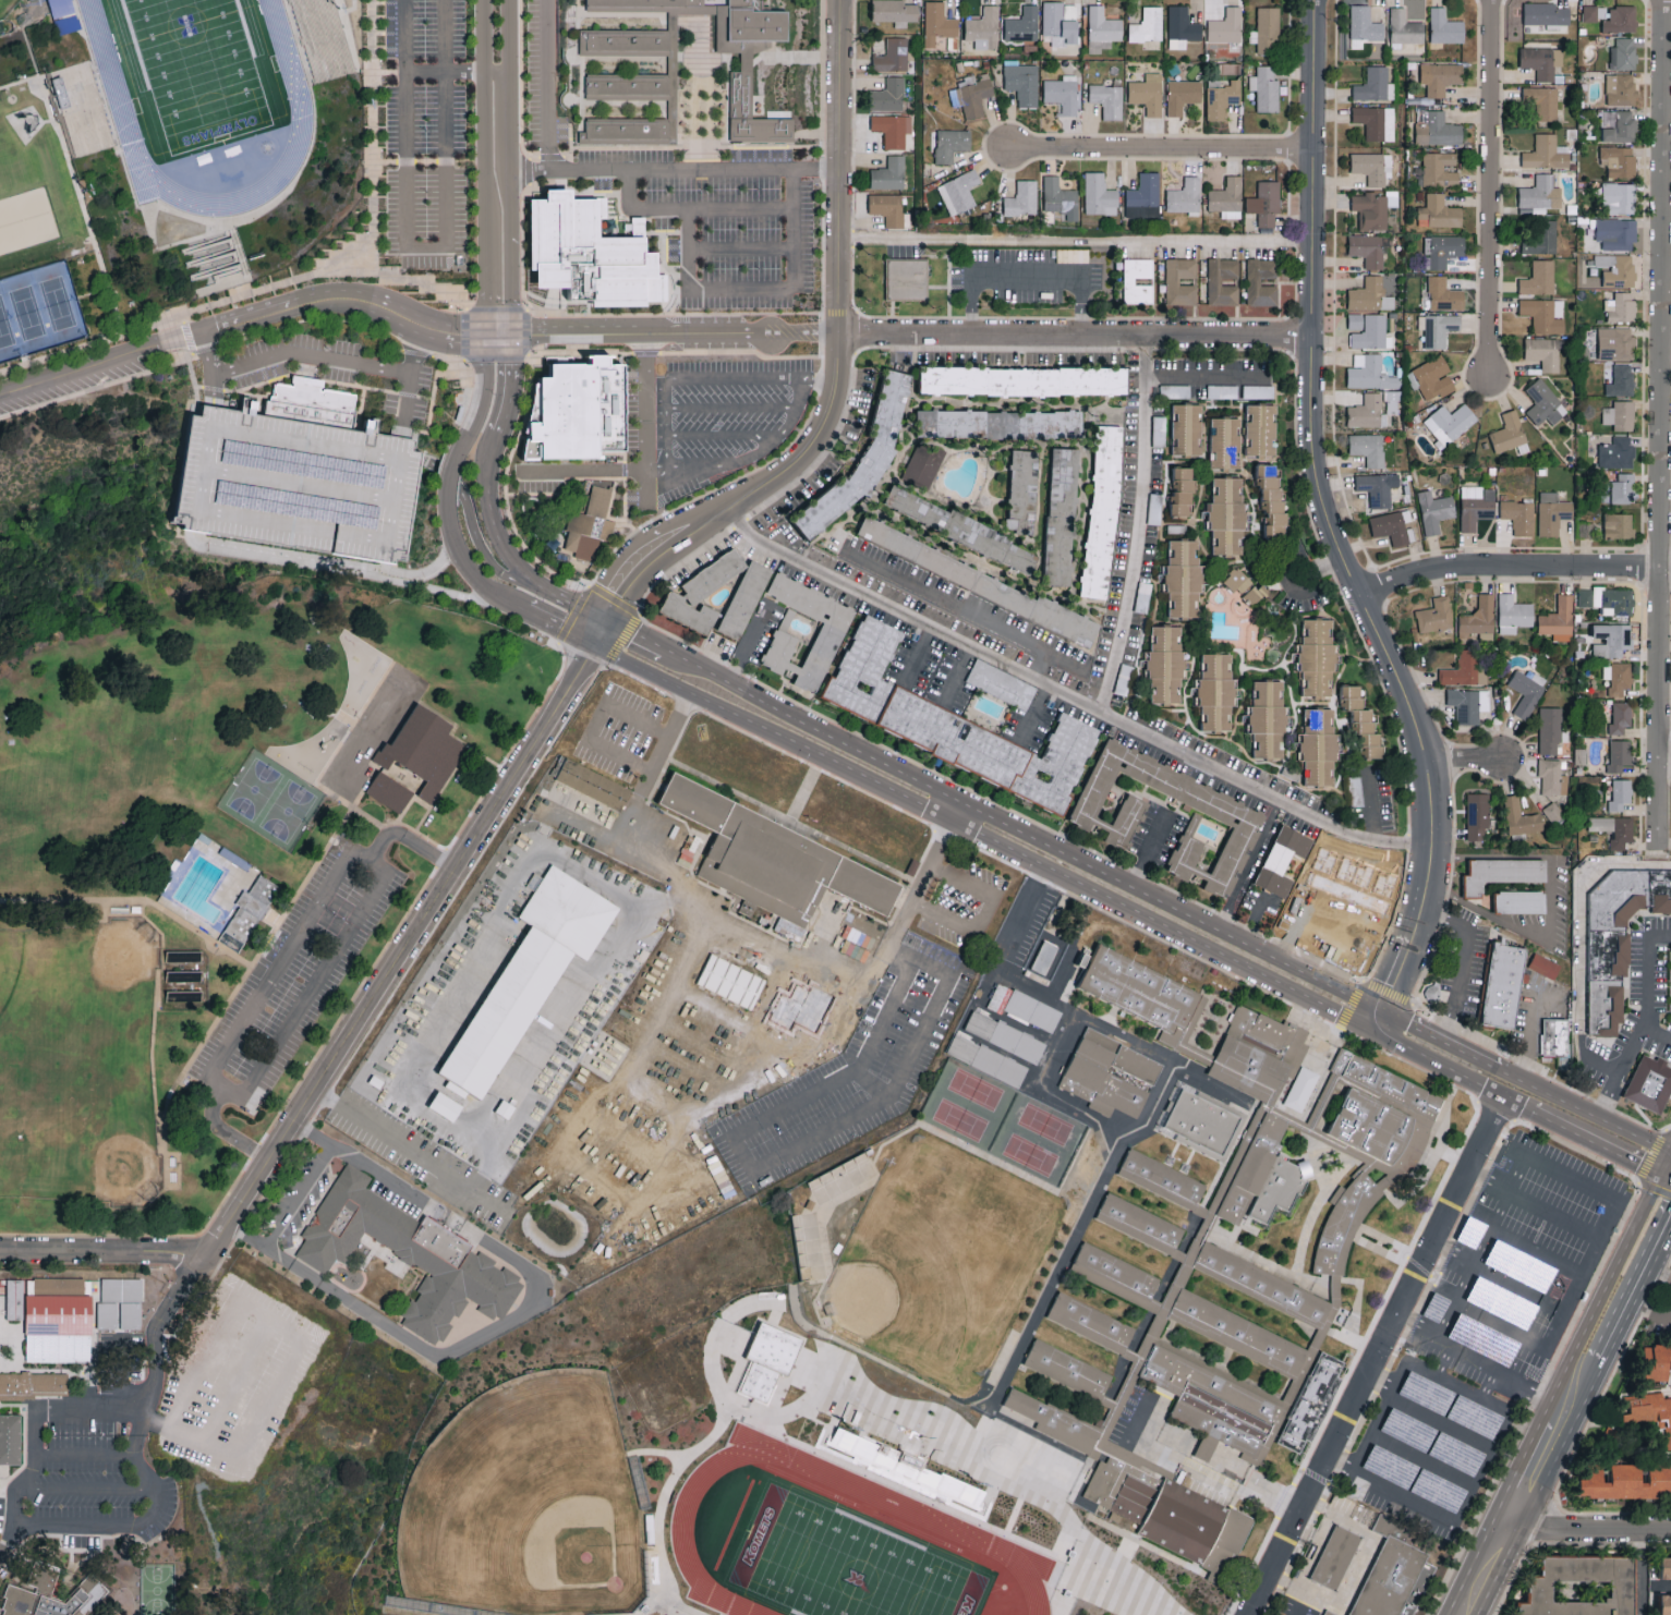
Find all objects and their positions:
park: (7, 5)
building: (895, 11)
building: (1595, 12)
building: (62, 13)
building: (1545, 13)
building: (1621, 19)
building: (937, 23)
building: (1024, 24)
building: (1058, 24)
building: (1365, 24)
building: (1147, 25)
building: (1182, 26)
building: (1226, 26)
building: (1445, 26)
building: (984, 27)
building: (1404, 27)
building: (1102, 28)
building: (1267, 29)
building: (323, 38)
building: (1623, 53)
building: (893, 54)
road: (792, 57)
building: (1541, 61)
park: (197, 70)
road: (448, 71)
building: (606, 72)
parking lot: (543, 75)
building: (1440, 76)
building: (1022, 83)
road: (545, 85)
building: (1373, 85)
building: (1266, 88)
building: (1621, 88)
building: (1062, 93)
building: (1148, 93)
building: (971, 94)
building: (888, 95)
building: (1183, 95)
building: (1222, 97)
building: (1107, 99)
track: (289, 100)
building: (1542, 100)
building: (81, 109)
building: (1376, 121)
building: (1619, 125)
building: (891, 130)
building: (1438, 130)
road: (809, 133)
parking lot: (425, 135)
road: (372, 136)
building: (948, 143)
road: (1159, 145)
road: (697, 146)
building: (1547, 153)
road: (565, 156)
building: (1619, 160)
road: (838, 166)
road: (495, 167)
building: (1370, 167)
road: (666, 168)
building: (1439, 168)
building: (889, 173)
park: (34, 181)
road: (629, 189)
road: (1488, 189)
building: (958, 191)
building: (1099, 194)
building: (1539, 195)
building: (1143, 196)
building: (1185, 196)
building: (1058, 197)
building: (1227, 197)
building: (1619, 197)
building: (1021, 198)
building: (1392, 198)
building: (1266, 203)
road: (711, 208)
building: (887, 208)
building: (1370, 210)
building: (1439, 211)
parking lot: (724, 217)
road: (522, 220)
road: (792, 227)
road: (656, 232)
building: (1615, 233)
building: (1540, 238)
road: (1074, 239)
road: (688, 247)
road: (740, 247)
road: (425, 248)
building: (1368, 248)
building: (1443, 248)
building: (592, 252)
building: (1615, 269)
road: (341, 272)
road: (674, 272)
road: (1027, 275)
building: (907, 278)
building: (1538, 278)
building: (1128, 280)
building: (1172, 280)
building: (1214, 280)
building: (1254, 281)
road: (740, 287)
road: (554, 294)
road: (679, 294)
building: (1370, 294)
building: (1443, 294)
road: (564, 297)
road: (537, 299)
road: (553, 301)
building: (1620, 307)
park: (37, 308)
road: (673, 309)
road: (550, 311)
road: (564, 311)
road: (706, 313)
road: (786, 313)
building: (1543, 314)
road: (343, 319)
road: (247, 320)
building: (1437, 328)
building: (1367, 329)
road: (800, 333)
road: (1075, 333)
road: (630, 335)
building: (1615, 343)
road: (77, 349)
road: (717, 351)
road: (610, 352)
building: (1543, 353)
road: (788, 355)
road: (317, 359)
road: (822, 363)
building: (1370, 373)
road: (301, 374)
road: (1207, 376)
building: (1433, 377)
road: (815, 380)
building: (1024, 380)
building: (1619, 380)
road: (194, 382)
road: (210, 390)
road: (228, 390)
road: (78, 393)
road: (408, 393)
road: (484, 393)
road: (432, 398)
road: (507, 398)
building: (1543, 402)
building: (1392, 404)
road: (361, 406)
road: (729, 408)
building: (573, 411)
building: (1366, 411)
road: (405, 414)
road: (641, 414)
building: (1620, 415)
parking lot: (705, 417)
road: (1659, 422)
building: (1000, 423)
building: (1450, 423)
building: (1261, 429)
building: (1510, 433)
road: (718, 434)
building: (1225, 442)
building: (1369, 448)
building: (1616, 452)
road: (667, 453)
building: (863, 459)
building: (923, 464)
road: (451, 470)
road: (602, 470)
road: (486, 474)
building: (296, 477)
parking garage: (296, 477)
road: (588, 478)
road: (506, 483)
building: (1378, 487)
building: (1622, 488)
building: (1022, 490)
building: (1182, 490)
road: (749, 493)
building: (1272, 497)
building: (1476, 506)
building: (1103, 511)
building: (1434, 511)
building: (1552, 512)
road: (607, 515)
building: (1062, 515)
road: (1327, 515)
building: (1519, 517)
road: (472, 519)
road: (1140, 524)
building: (1618, 525)
building: (589, 526)
building: (1392, 527)
building: (961, 529)
road: (777, 536)
road: (290, 562)
road: (1512, 562)
road: (468, 564)
road: (433, 570)
parking lot: (1276, 570)
road: (522, 571)
building: (1183, 579)
building: (979, 581)
building: (1243, 585)
road: (449, 593)
building: (748, 593)
road: (1298, 593)
building: (1608, 599)
road: (958, 608)
building: (1513, 614)
building: (1436, 615)
traffic signals: (605, 618)
building: (1479, 618)
building: (1558, 619)
road: (1163, 622)
road: (558, 626)
road: (596, 630)
building: (831, 632)
road: (631, 635)
building: (1612, 639)
road: (1292, 642)
traffic signals: (589, 643)
road: (746, 646)
road: (917, 652)
road: (1345, 653)
building: (1317, 657)
building: (1165, 665)
road: (1040, 666)
road: (1282, 666)
building: (1466, 668)
road: (957, 673)
building: (1618, 677)
building: (1002, 683)
road: (1185, 687)
building: (1526, 691)
building: (1214, 692)
road: (1070, 695)
building: (1468, 704)
road: (1150, 709)
road: (1034, 711)
building: (1621, 717)
building: (1267, 719)
road: (593, 721)
building: (1361, 721)
building: (953, 722)
road: (1234, 726)
road: (1295, 727)
building: (1549, 730)
building: (1319, 748)
building: (426, 753)
building: (1619, 754)
road: (1463, 756)
road: (1666, 762)
road: (328, 763)
road: (1342, 775)
building: (1550, 775)
building: (593, 784)
building: (391, 794)
building: (1620, 794)
park: (274, 800)
parking lot: (1369, 800)
road: (641, 801)
road: (404, 811)
building: (1553, 813)
building: (1477, 815)
building: (1521, 817)
building: (1244, 818)
building: (1613, 828)
road: (1020, 831)
road: (419, 834)
road: (410, 837)
road: (980, 839)
road: (1148, 849)
building: (1283, 860)
building: (776, 861)
park: (211, 862)
road: (368, 863)
road: (1249, 863)
road: (525, 870)
building: (1499, 873)
road: (135, 900)
building: (1518, 901)
road: (911, 906)
road: (1552, 906)
road: (1024, 909)
road: (980, 911)
building: (249, 912)
building: (1620, 915)
road: (1254, 919)
road: (1584, 920)
road: (691, 928)
road: (759, 954)
road: (1462, 957)
parking lot: (1465, 959)
building: (1049, 960)
road: (396, 963)
building: (1542, 966)
parking lot: (298, 975)
building: (529, 976)
building: (731, 981)
building: (1500, 984)
building: (1140, 989)
building: (995, 994)
road: (230, 997)
building: (1601, 1007)
building: (1032, 1010)
road: (1647, 1015)
road: (1379, 1018)
road: (1410, 1021)
road: (1530, 1024)
road: (1656, 1032)
building: (1006, 1040)
building: (1552, 1040)
road: (1455, 1045)
building: (1260, 1057)
road: (1486, 1060)
park: (81, 1062)
building: (989, 1064)
road: (1448, 1067)
building: (1113, 1077)
road: (873, 1084)
building: (1647, 1084)
building: (1300, 1089)
road: (1606, 1093)
road: (1584, 1110)
park: (1002, 1125)
building: (1201, 1127)
road: (225, 1132)
road: (1591, 1139)
building: (1370, 1146)
road: (411, 1151)
road: (1517, 1151)
traffic signals: (1639, 1163)
road: (1667, 1163)
road: (749, 1164)
building: (861, 1167)
road: (1644, 1168)
building: (1250, 1170)
road: (1667, 1174)
building: (1162, 1185)
road: (299, 1194)
road: (1533, 1203)
road: (1487, 1213)
building: (676, 1215)
road: (1608, 1219)
building: (1142, 1230)
road: (1659, 1247)
road: (1536, 1251)
road: (106, 1253)
building: (409, 1254)
park: (935, 1262)
road: (1612, 1270)
road: (1659, 1275)
building: (1116, 1278)
building: (1262, 1290)
building: (14, 1299)
building: (120, 1303)
building: (1433, 1308)
road: (514, 1309)
road: (1649, 1311)
road: (1622, 1314)
building: (60, 1319)
road: (1445, 1323)
building: (1093, 1326)
road: (1501, 1327)
building: (1237, 1336)
parking lot: (1482, 1338)
road: (1377, 1355)
building: (767, 1360)
building: (1657, 1361)
road: (1589, 1364)
road: (1413, 1367)
building: (1068, 1372)
road: (123, 1376)
road: (1521, 1381)
road: (1554, 1381)
building: (31, 1384)
building: (1424, 1392)
road: (1474, 1397)
road: (1570, 1397)
road: (249, 1399)
building: (1210, 1404)
building: (1312, 1408)
building: (1650, 1411)
building: (1472, 1416)
building: (1051, 1424)
building: (1405, 1429)
road: (1370, 1432)
road: (1462, 1434)
building: (10, 1437)
park: (966, 1441)
building: (1453, 1453)
road: (86, 1454)
road: (1420, 1458)
building: (1388, 1466)
road: (28, 1469)
building: (910, 1471)
road: (1190, 1472)
road: (1536, 1479)
building: (1625, 1481)
road: (88, 1490)
building: (1436, 1490)
road: (1319, 1505)
road: (1426, 1506)
park: (530, 1507)
building: (1165, 1514)
road: (1590, 1531)
road: (7, 1539)
road: (1363, 1545)
building: (1333, 1557)
park: (843, 1566)
building: (1667, 1566)
road: (1489, 1572)
road: (1636, 1572)
building: (1391, 1575)
building: (43, 1576)
building: (1042, 1584)
building: (1583, 1586)
park: (156, 1589)
building: (50, 1602)
building: (1666, 1604)
building: (1328, 1613)

